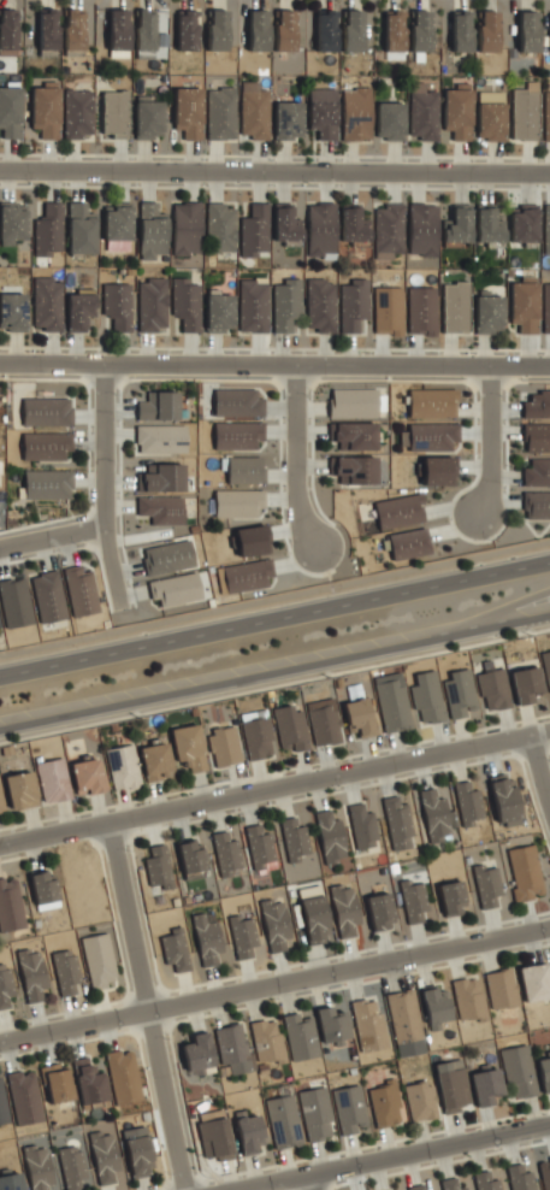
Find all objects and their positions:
building: (73, 29)
building: (254, 29)
building: (187, 30)
building: (217, 30)
building: (284, 30)
building: (325, 30)
building: (351, 30)
building: (419, 30)
building: (7, 31)
building: (144, 31)
building: (460, 31)
building: (486, 31)
building: (527, 31)
building: (118, 33)
building: (392, 34)
building: (45, 110)
building: (253, 110)
building: (10, 111)
building: (456, 111)
building: (188, 112)
building: (321, 112)
building: (422, 112)
building: (524, 112)
building: (77, 113)
building: (114, 113)
building: (220, 113)
building: (355, 113)
building: (490, 114)
building: (546, 116)
building: (147, 117)
building: (286, 119)
building: (389, 120)
road: (274, 169)
building: (12, 222)
building: (117, 222)
building: (457, 224)
building: (524, 224)
building: (285, 225)
building: (353, 225)
building: (487, 225)
building: (185, 228)
building: (220, 228)
building: (81, 229)
building: (421, 229)
building: (48, 230)
building: (253, 230)
building: (320, 230)
building: (546, 230)
building: (150, 231)
building: (388, 231)
building: (47, 304)
building: (185, 304)
building: (286, 304)
building: (117, 305)
building: (320, 305)
building: (353, 305)
building: (253, 306)
building: (524, 306)
building: (454, 307)
building: (545, 307)
building: (388, 310)
building: (12, 311)
building: (78, 311)
building: (421, 311)
building: (219, 312)
building: (489, 313)
road: (274, 364)
building: (237, 402)
building: (353, 402)
building: (432, 403)
building: (537, 405)
building: (158, 406)
building: (47, 411)
building: (237, 435)
building: (355, 435)
building: (428, 436)
road: (485, 437)
building: (537, 437)
building: (160, 438)
building: (46, 446)
road: (292, 455)
building: (355, 469)
building: (243, 470)
building: (438, 471)
building: (537, 472)
building: (164, 478)
building: (46, 484)
road: (101, 485)
building: (237, 503)
building: (537, 503)
building: (161, 509)
building: (398, 511)
road: (51, 537)
building: (252, 540)
building: (408, 543)
building: (167, 556)
building: (243, 576)
building: (175, 589)
building: (81, 590)
building: (48, 596)
road: (274, 597)
building: (14, 602)
road: (274, 617)
building: (546, 666)
road: (274, 668)
building: (526, 684)
building: (493, 689)
building: (459, 693)
building: (426, 696)
building: (394, 706)
building: (359, 717)
building: (323, 725)
building: (291, 729)
building: (256, 734)
building: (224, 746)
building: (188, 747)
building: (155, 760)
building: (123, 766)
building: (88, 776)
road: (537, 777)
building: (52, 779)
building: (20, 790)
road: (274, 790)
building: (503, 799)
building: (468, 802)
building: (1, 805)
building: (434, 815)
building: (397, 821)
building: (361, 826)
building: (330, 837)
building: (294, 838)
building: (260, 848)
building: (225, 852)
building: (190, 856)
building: (158, 867)
building: (525, 872)
building: (486, 885)
building: (43, 889)
building: (451, 899)
building: (414, 901)
building: (10, 906)
building: (344, 909)
building: (379, 912)
building: (313, 914)
building: (274, 924)
building: (242, 933)
building: (207, 937)
building: (175, 949)
building: (99, 961)
building: (65, 971)
building: (31, 974)
building: (534, 982)
road: (274, 984)
building: (5, 985)
building: (501, 988)
building: (468, 998)
road: (150, 1006)
building: (434, 1006)
building: (403, 1015)
building: (368, 1024)
building: (331, 1025)
building: (300, 1036)
building: (266, 1041)
building: (232, 1048)
building: (197, 1054)
building: (519, 1071)
building: (544, 1073)
building: (123, 1077)
building: (57, 1082)
building: (88, 1083)
building: (451, 1085)
building: (485, 1085)
building: (24, 1097)
building: (420, 1100)
building: (2, 1103)
building: (384, 1104)
building: (349, 1108)
building: (315, 1113)
building: (283, 1121)
building: (248, 1132)
building: (213, 1135)
building: (138, 1155)
building: (104, 1156)
road: (390, 1157)
building: (71, 1166)
building: (37, 1167)
building: (520, 1178)
building: (11, 1180)
road: (311, 1182)
building: (486, 1182)
building: (450, 1184)
building: (415, 1186)

